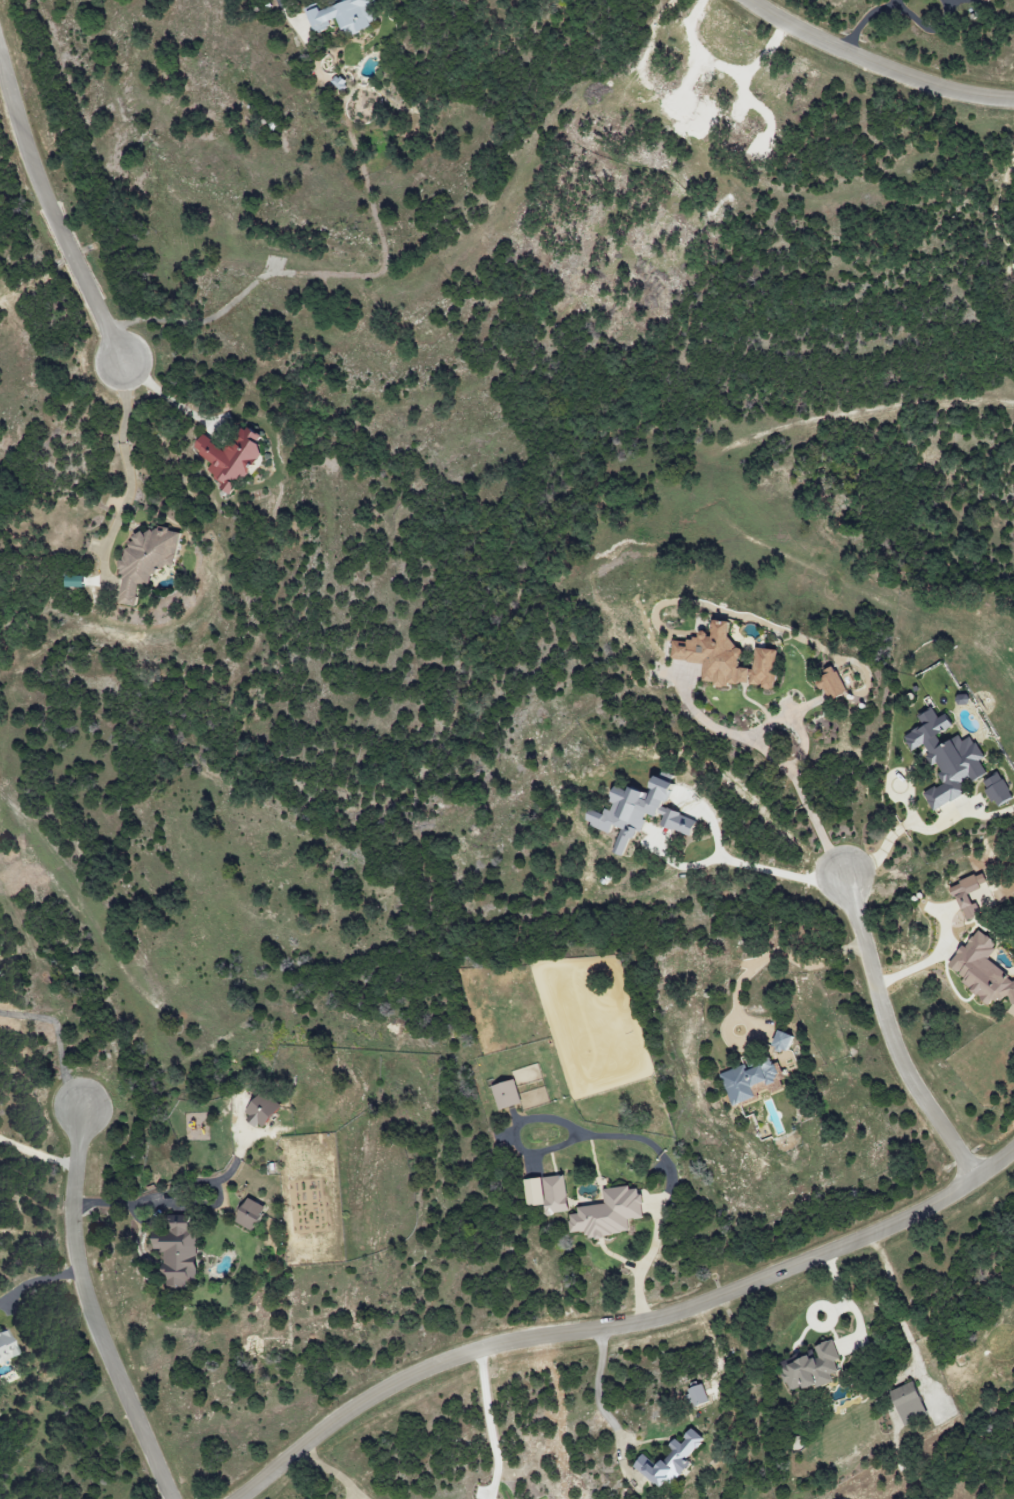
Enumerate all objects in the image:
road: (897, 3)
road: (292, 13)
building: (343, 16)
road: (874, 67)
road: (52, 216)
road: (172, 395)
building: (230, 457)
road: (128, 479)
building: (144, 560)
building: (75, 581)
building: (725, 658)
building: (830, 683)
building: (962, 699)
building: (946, 757)
building: (997, 789)
road: (804, 792)
building: (639, 813)
road: (898, 831)
road: (762, 864)
building: (961, 897)
road: (777, 952)
road: (928, 960)
building: (981, 970)
road: (61, 1033)
road: (889, 1037)
building: (781, 1041)
building: (747, 1080)
building: (506, 1094)
building: (261, 1111)
road: (38, 1146)
building: (548, 1194)
road: (159, 1200)
building: (249, 1214)
building: (609, 1214)
building: (177, 1251)
road: (646, 1263)
road: (35, 1281)
road: (87, 1309)
road: (901, 1321)
road: (626, 1329)
building: (5, 1345)
building: (811, 1368)
road: (598, 1391)
building: (698, 1395)
building: (907, 1402)
road: (491, 1419)
building: (669, 1461)
road: (341, 1472)

